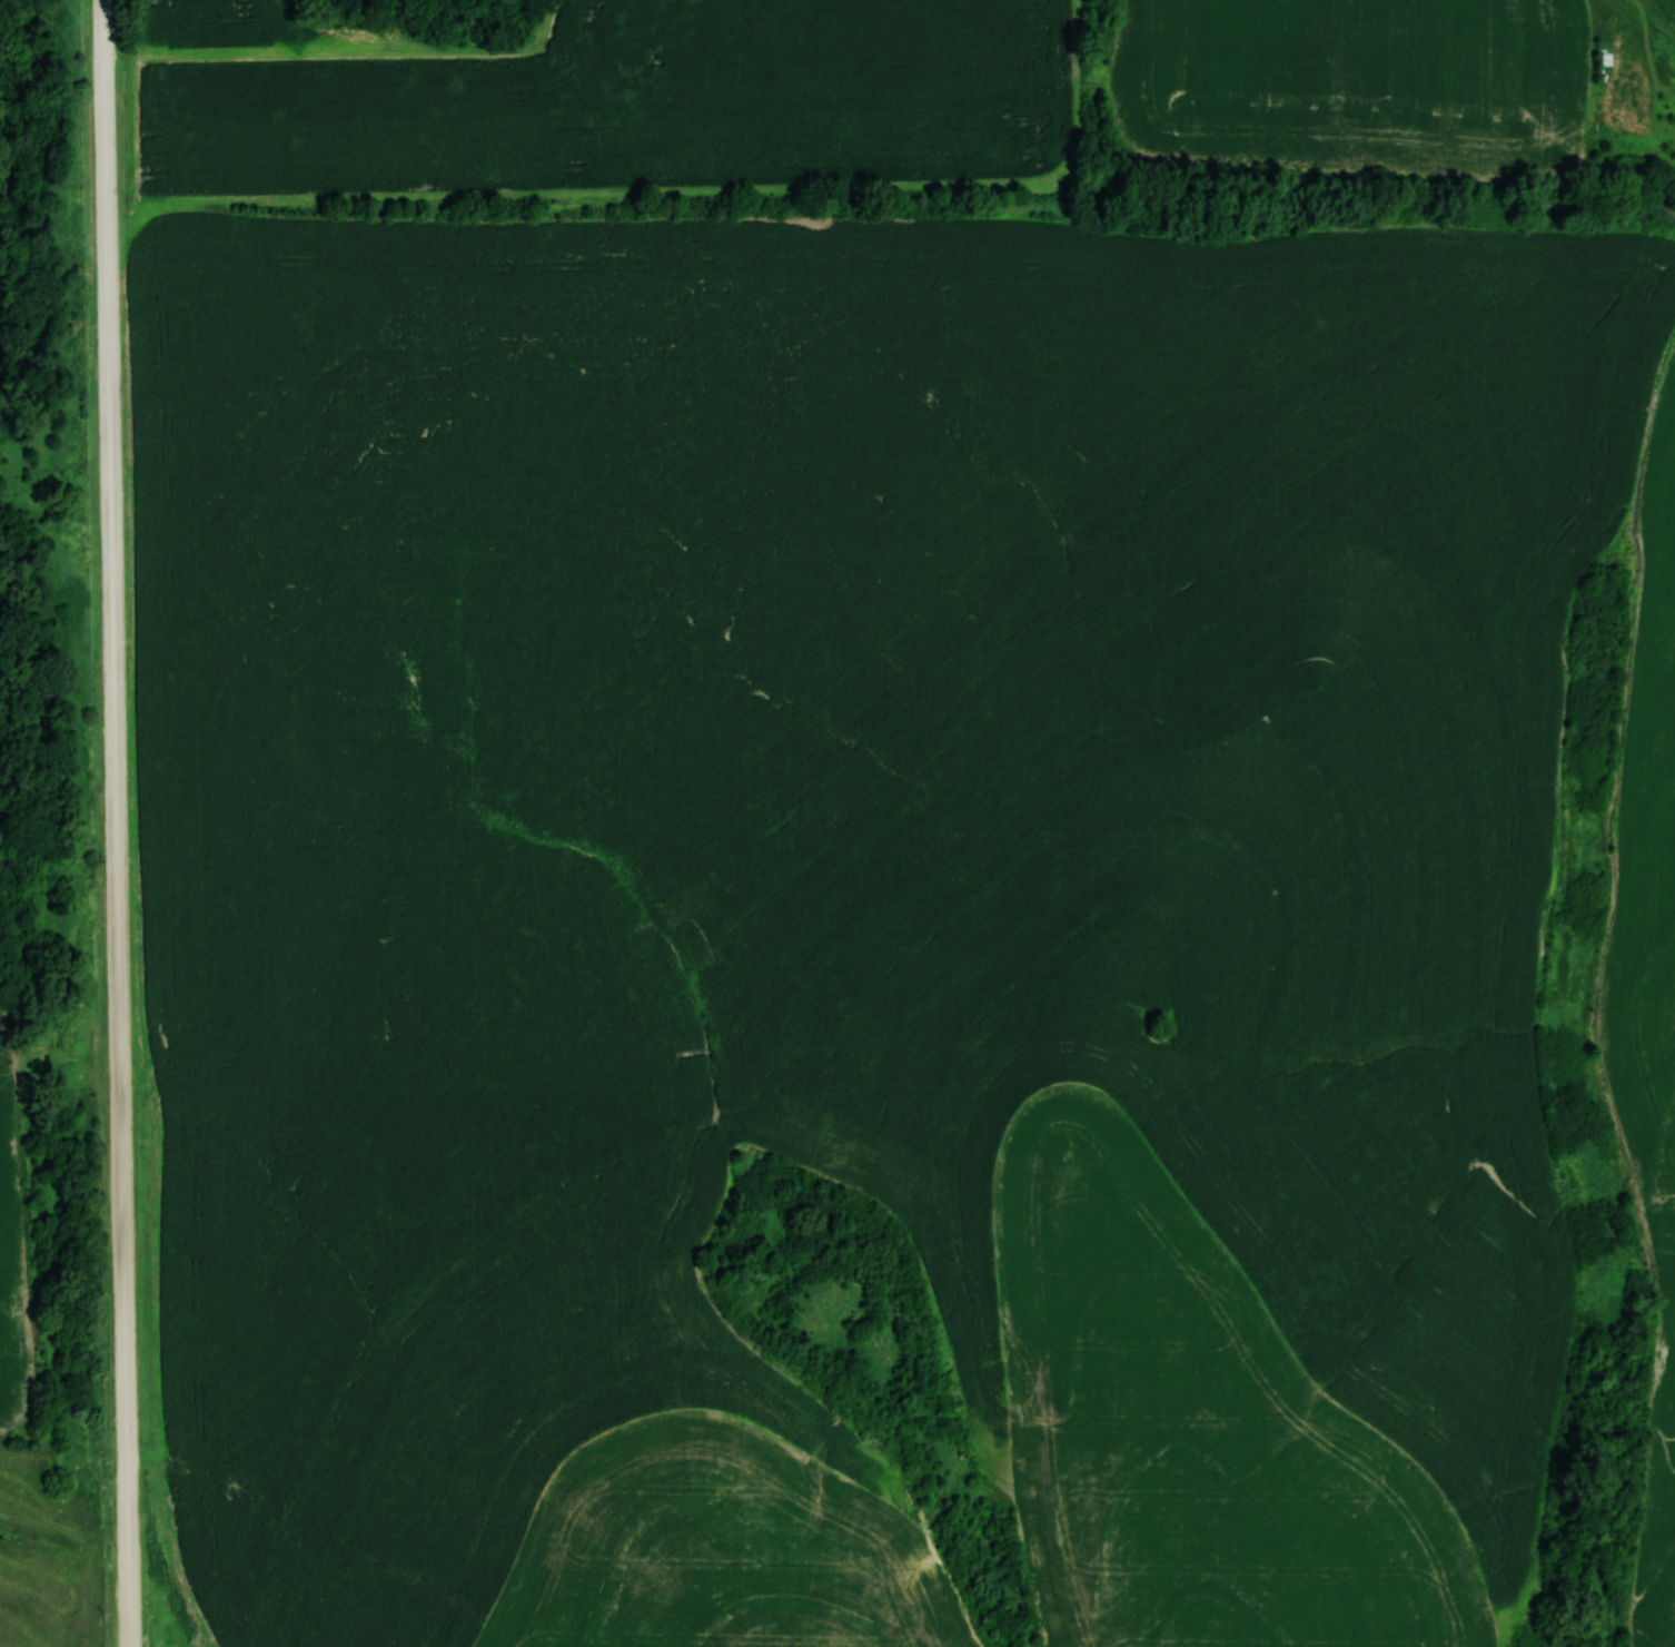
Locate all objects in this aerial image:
road: (116, 823)

